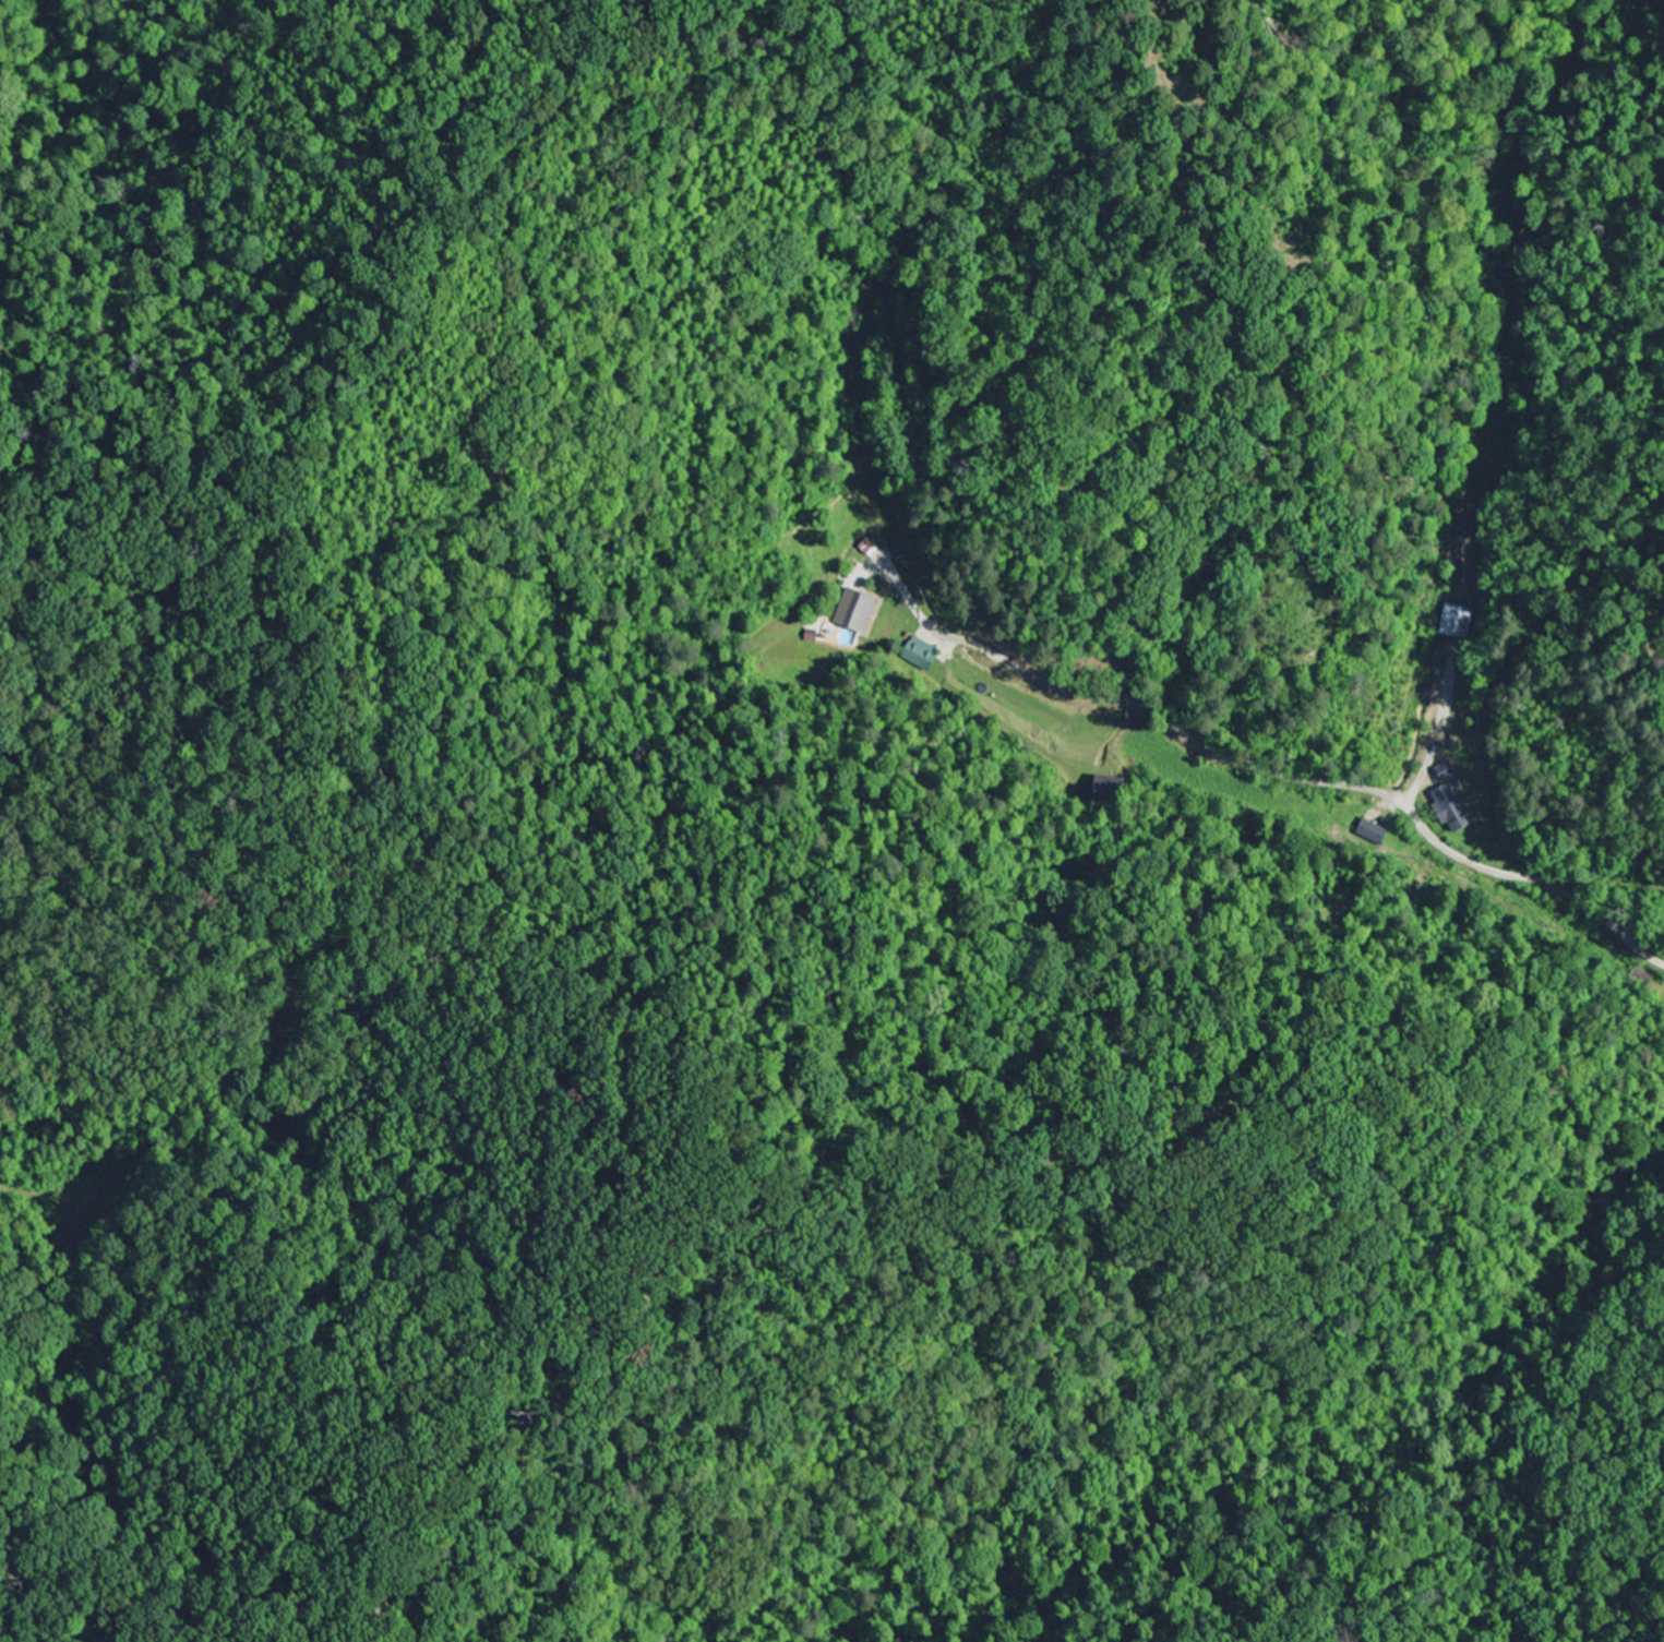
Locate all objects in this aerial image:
building: (860, 612)
building: (1457, 622)
building: (922, 656)
road: (1279, 754)
building: (1453, 801)

